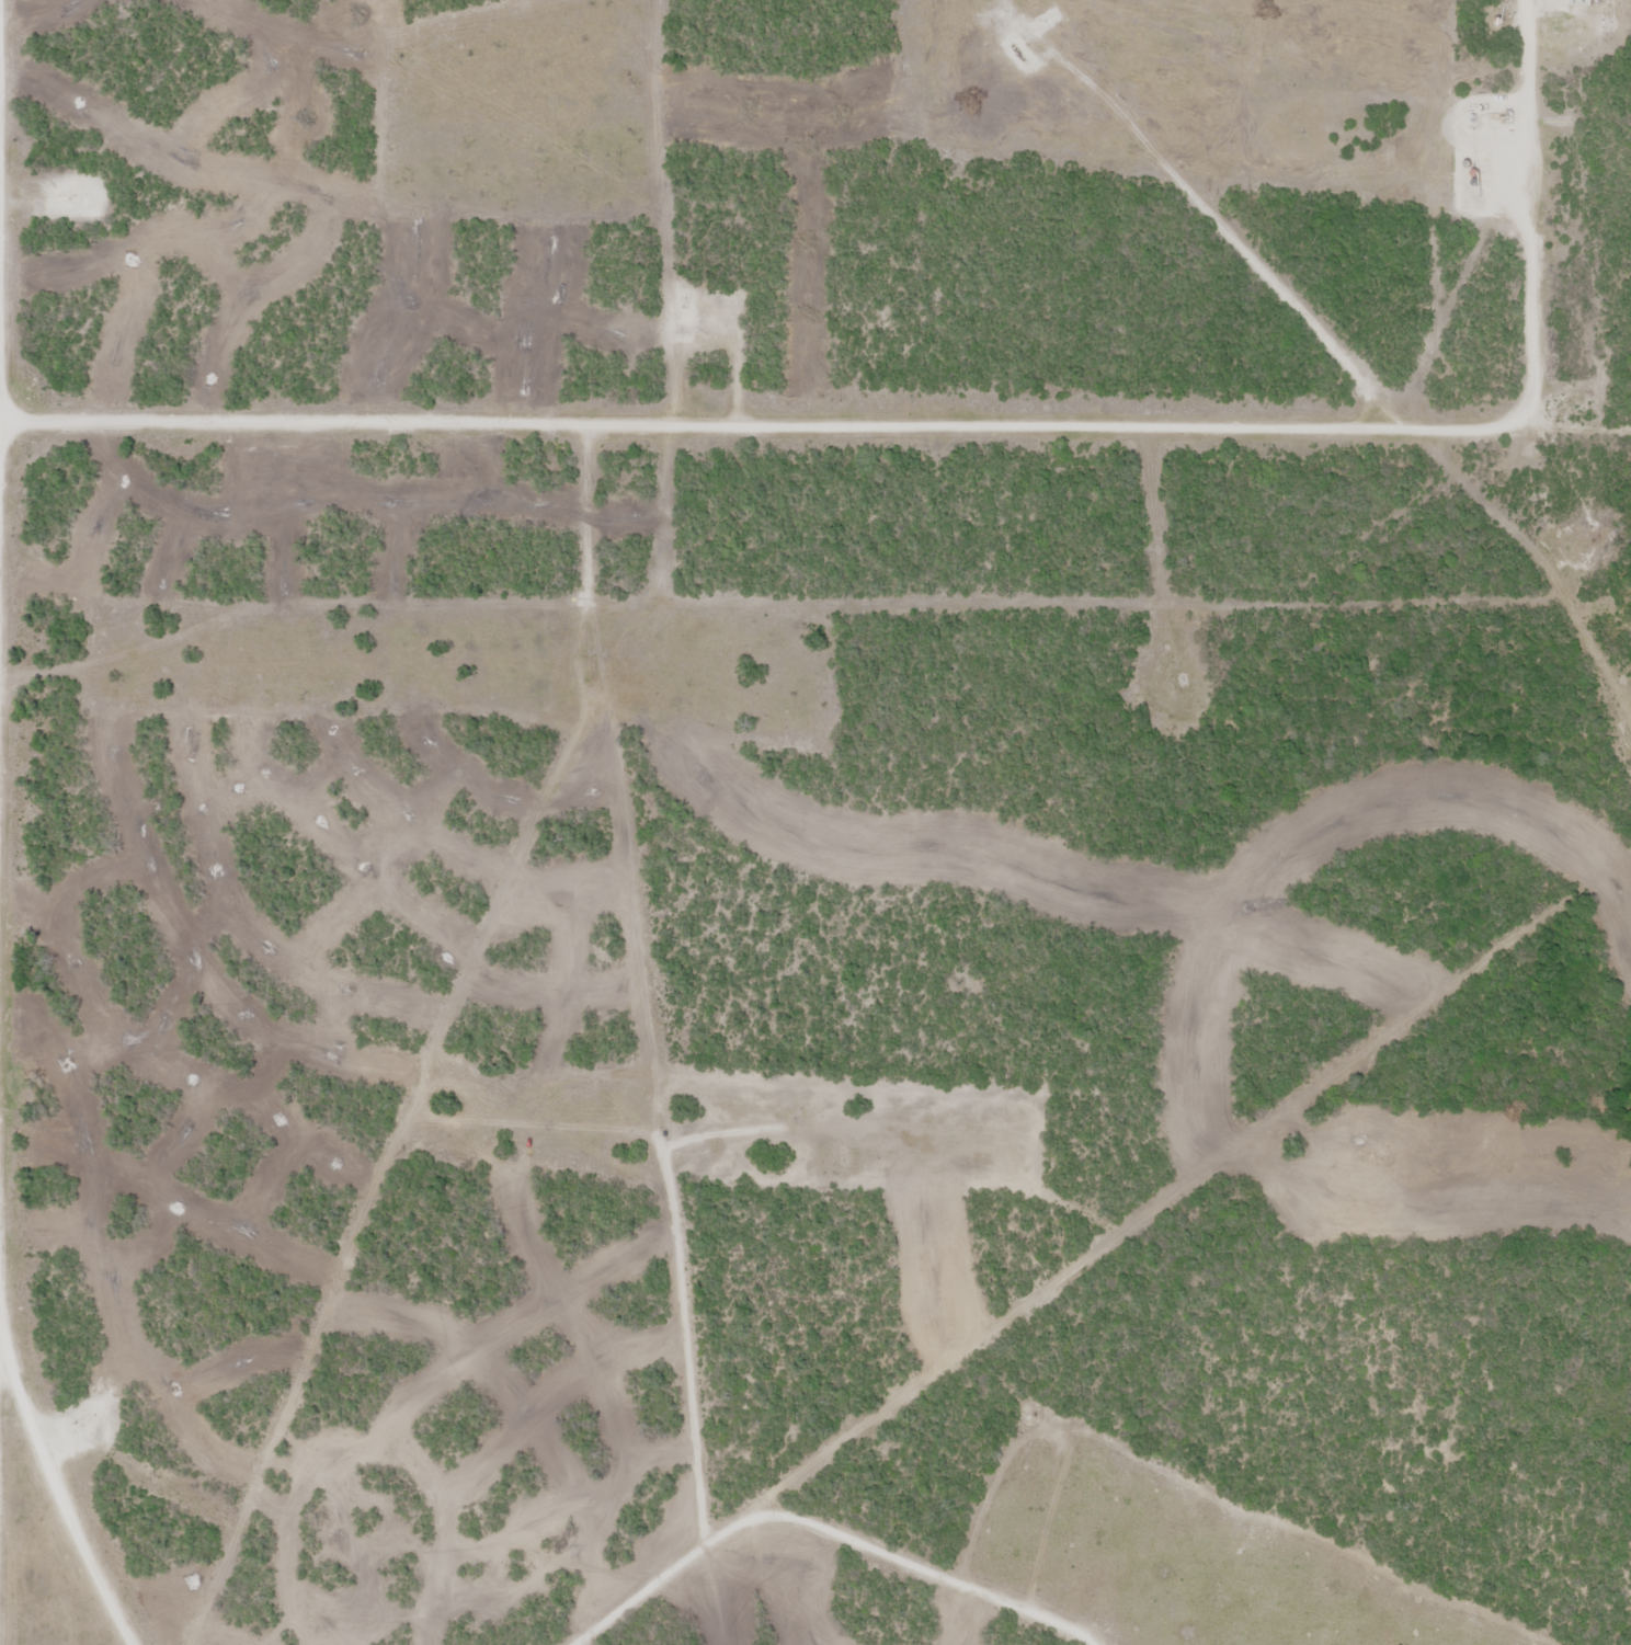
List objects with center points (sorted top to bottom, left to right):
building: (1579, 2)

